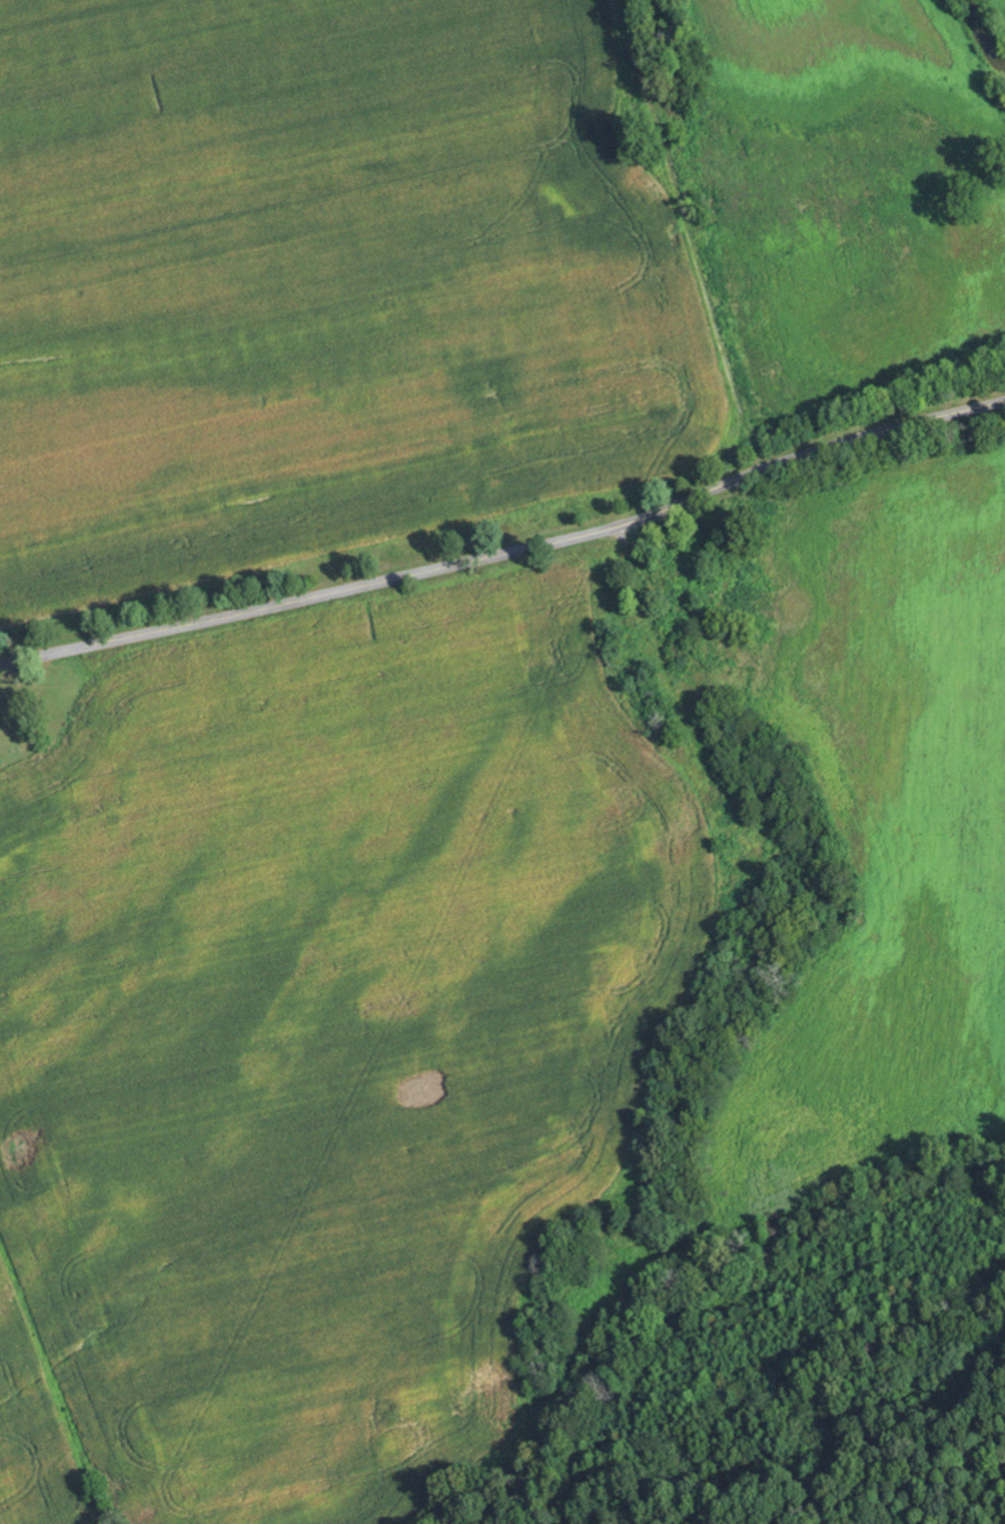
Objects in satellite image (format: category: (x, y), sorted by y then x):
road: (508, 555)

